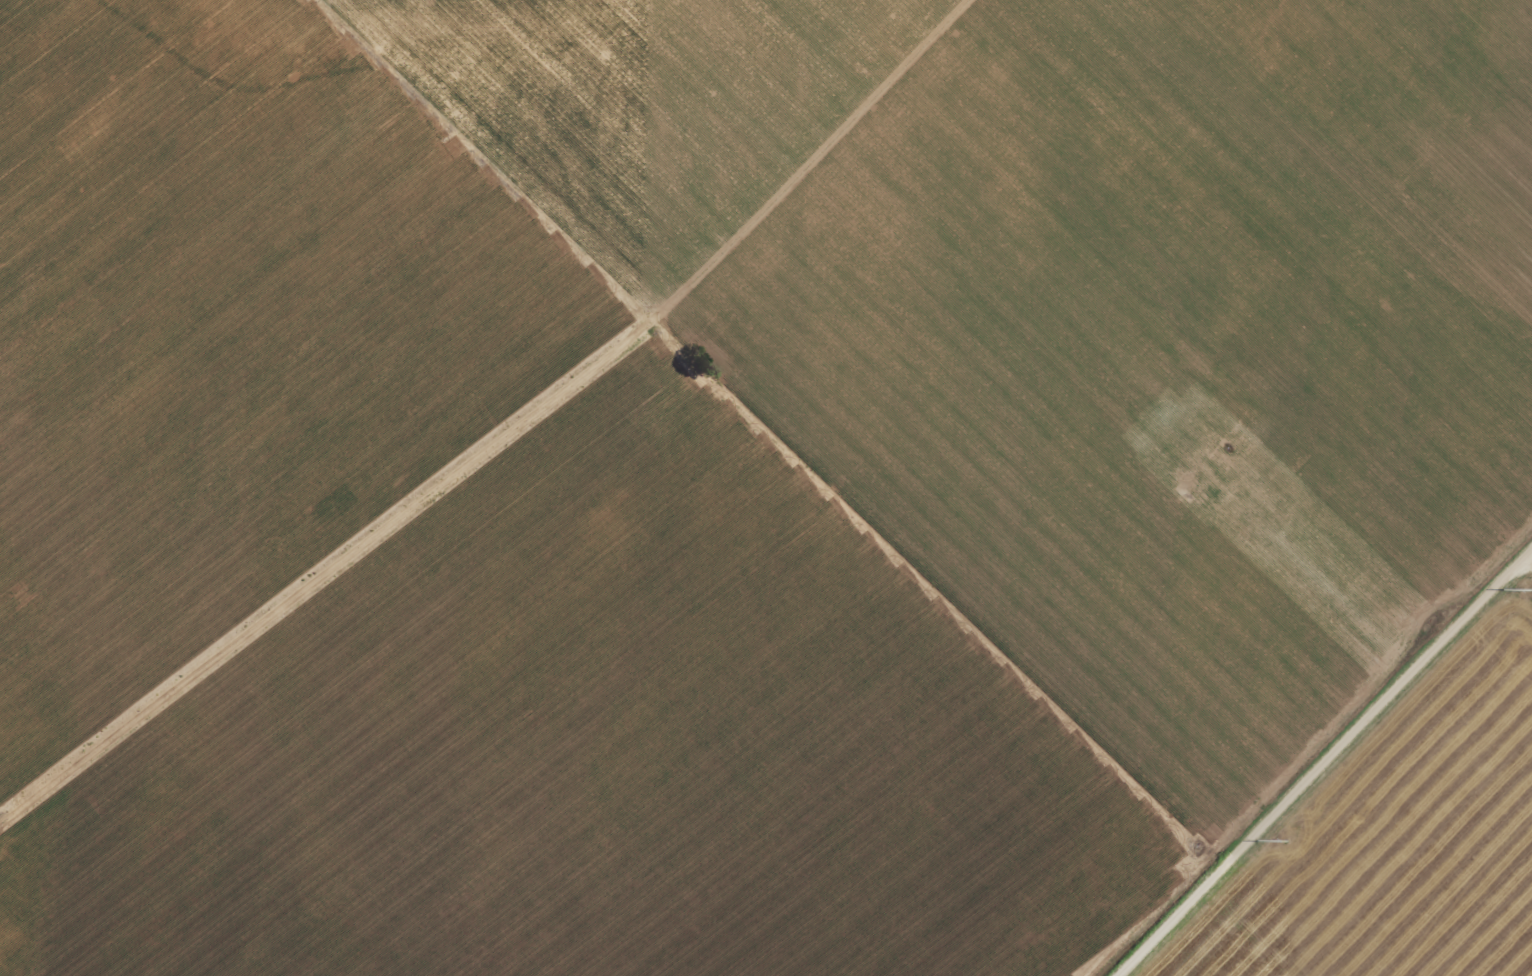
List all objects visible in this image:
road: (529, 444)
power tower: (1531, 591)
road: (934, 628)
road: (1331, 779)
power tower: (1286, 841)

